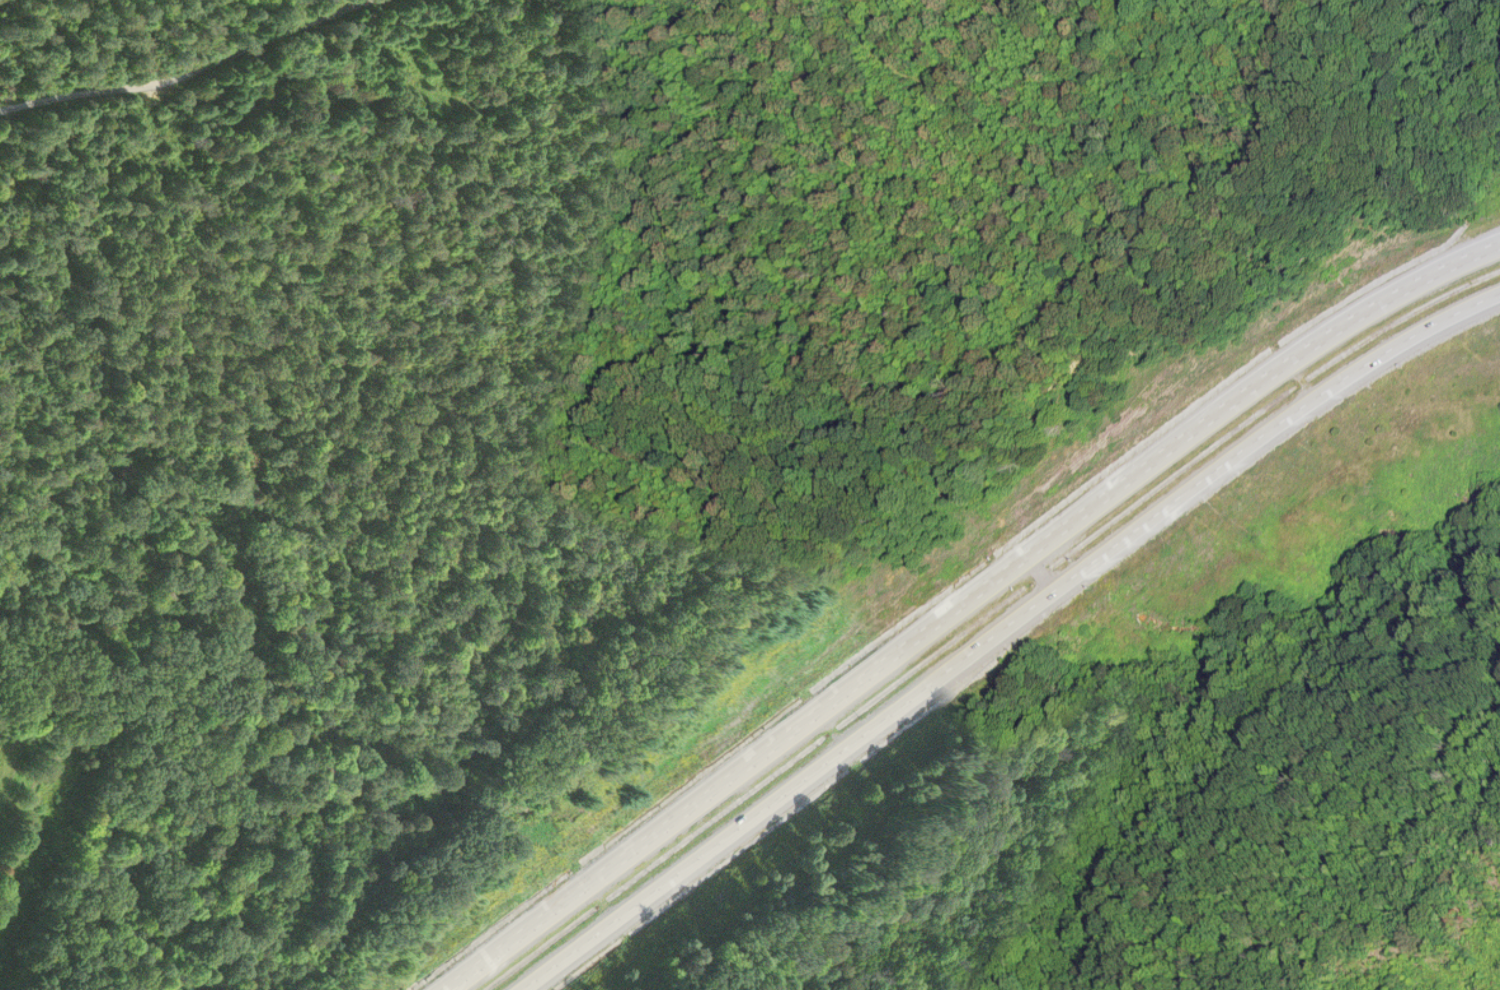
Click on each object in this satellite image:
road: (187, 70)
road: (961, 601)
road: (1004, 628)

